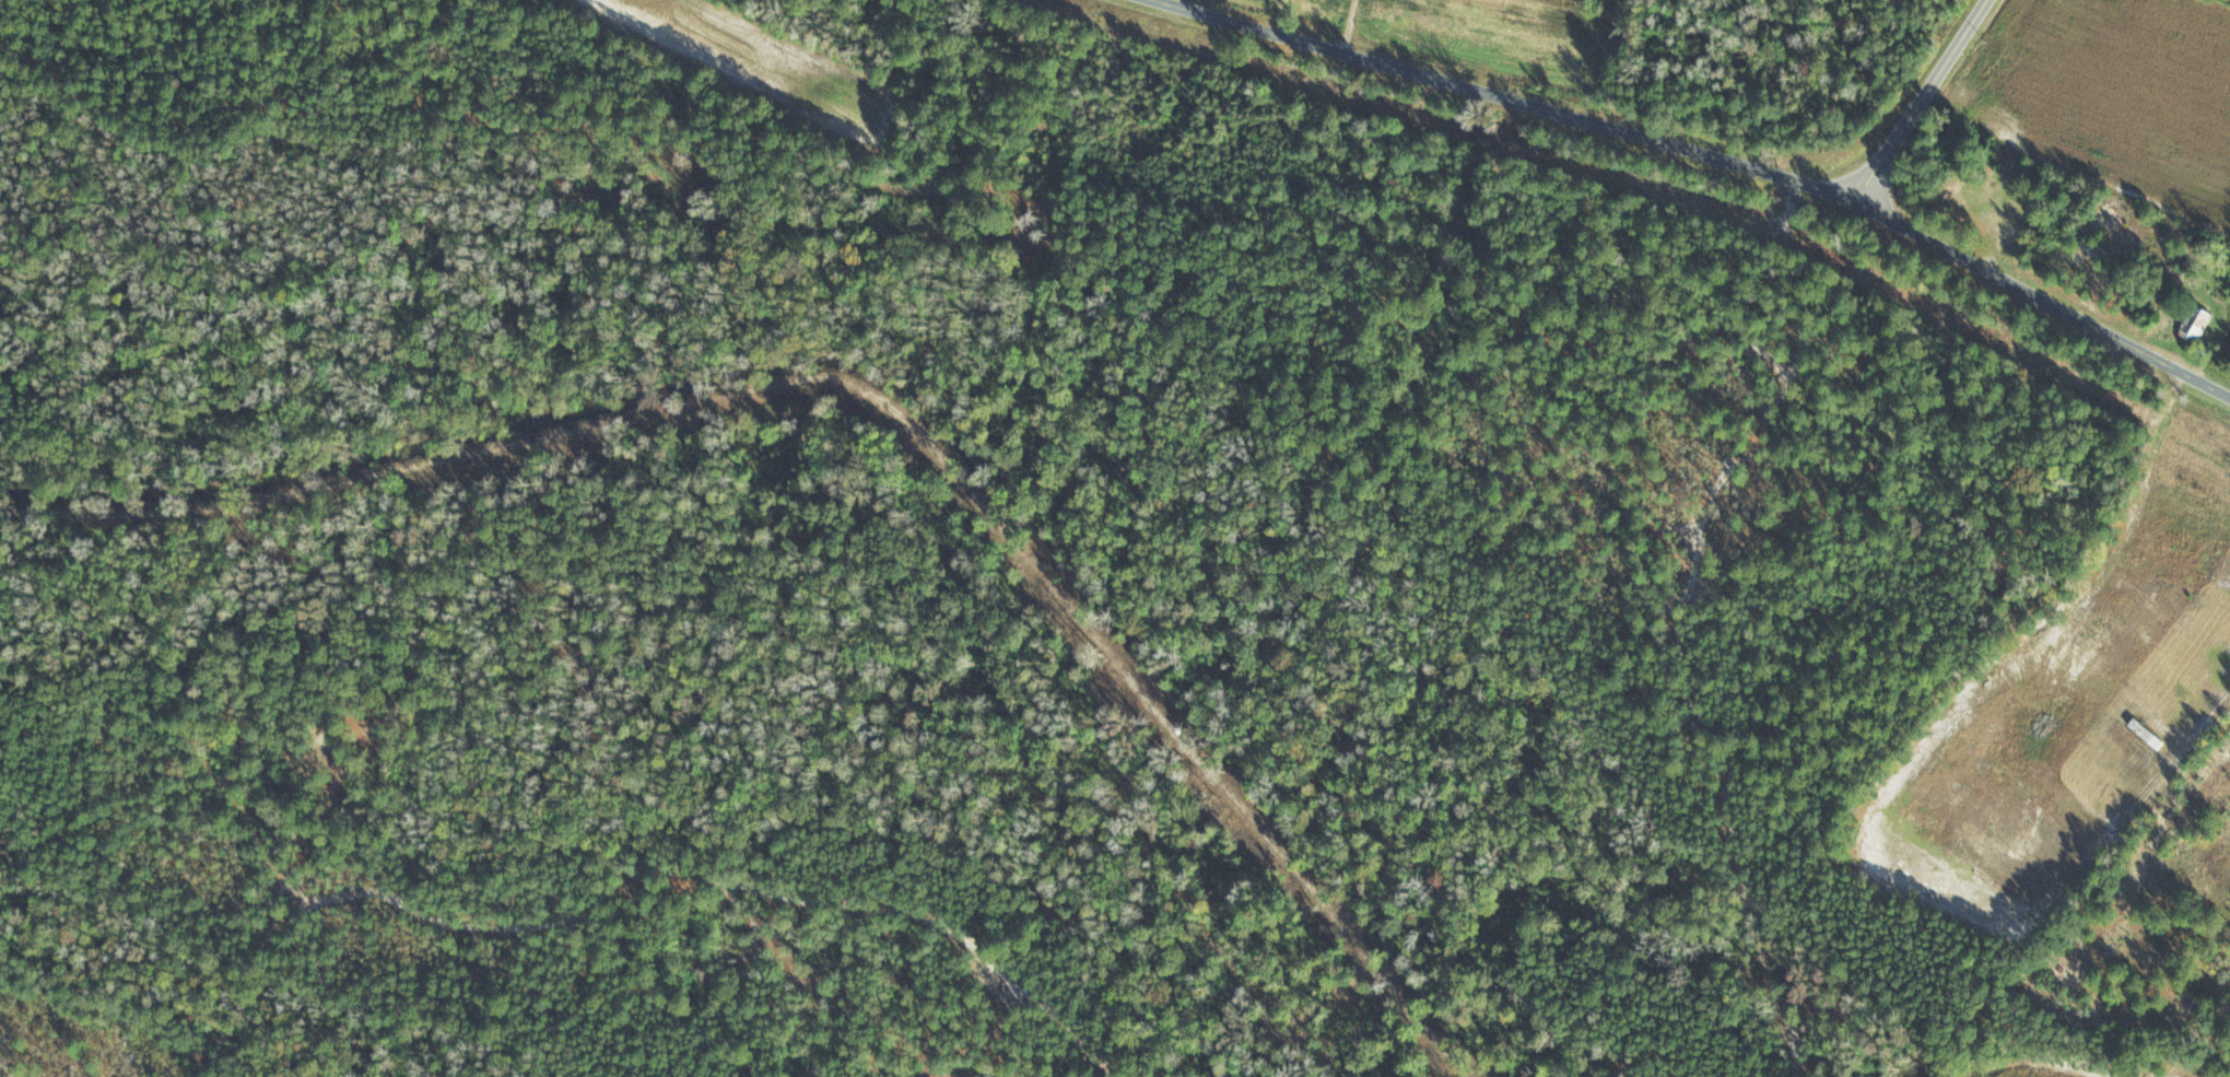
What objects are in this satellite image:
road: (1917, 103)
road: (1721, 167)
building: (1986, 201)
building: (2086, 245)
building: (2195, 324)
building: (2190, 1003)

